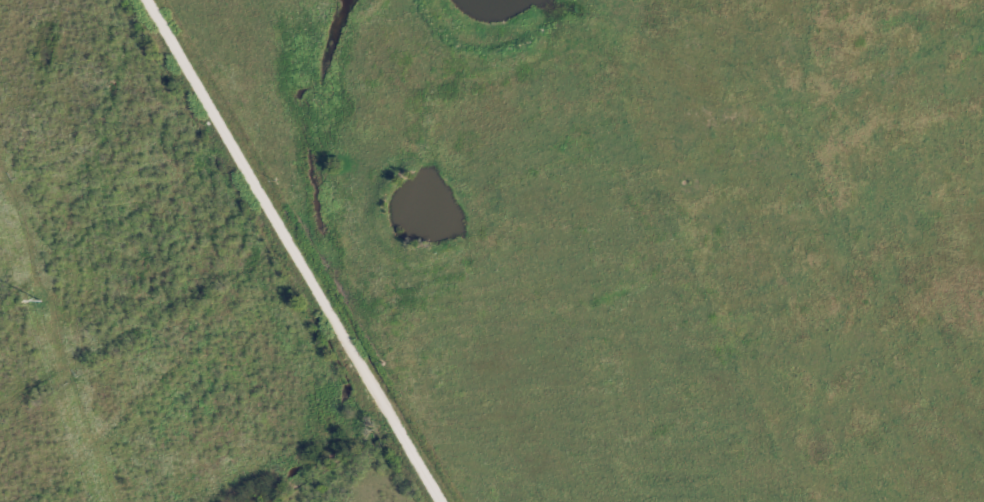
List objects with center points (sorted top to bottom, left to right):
road: (299, 251)
power tower: (40, 297)

